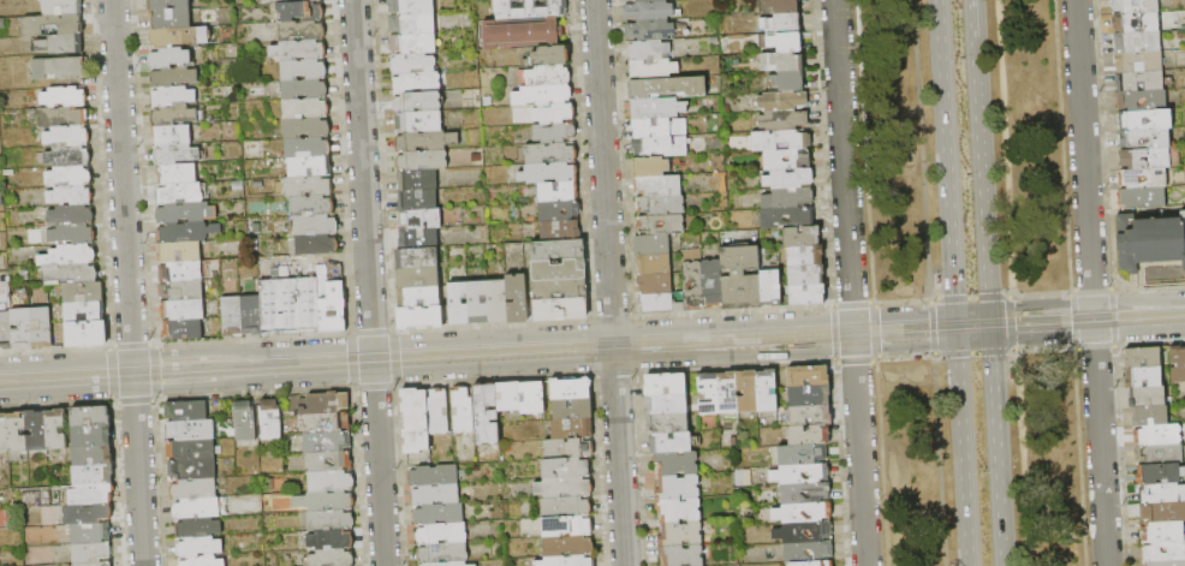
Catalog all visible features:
building: (647, 0)
building: (281, 1)
building: (310, 1)
building: (166, 4)
building: (782, 6)
building: (1135, 6)
building: (60, 7)
building: (409, 7)
building: (528, 10)
building: (648, 11)
building: (298, 12)
road: (973, 18)
building: (168, 19)
building: (781, 23)
building: (1123, 23)
building: (50, 24)
building: (410, 24)
building: (649, 30)
building: (300, 31)
building: (520, 34)
building: (178, 37)
building: (782, 41)
building: (1137, 41)
building: (411, 43)
building: (58, 44)
building: (297, 50)
building: (648, 50)
building: (549, 55)
building: (168, 58)
building: (781, 61)
building: (1138, 61)
building: (411, 64)
building: (56, 67)
building: (651, 68)
building: (302, 70)
building: (547, 76)
building: (172, 77)
building: (788, 79)
building: (1139, 79)
building: (416, 83)
building: (666, 87)
building: (303, 89)
building: (540, 95)
building: (62, 96)
building: (172, 97)
building: (1127, 100)
building: (781, 101)
building: (417, 102)
building: (655, 107)
building: (305, 108)
building: (552, 114)
building: (175, 115)
building: (60, 117)
building: (1130, 119)
building: (782, 120)
building: (404, 123)
building: (657, 127)
building: (306, 129)
building: (552, 133)
building: (66, 135)
building: (171, 136)
building: (780, 139)
building: (1130, 139)
building: (419, 142)
road: (1060, 145)
building: (659, 147)
building: (306, 148)
road: (1004, 148)
road: (921, 149)
road: (863, 150)
road: (821, 151)
building: (548, 153)
building: (175, 155)
building: (66, 156)
building: (799, 159)
road: (1083, 159)
building: (1159, 159)
building: (421, 161)
road: (946, 162)
road: (844, 166)
building: (308, 167)
building: (649, 167)
road: (982, 171)
road: (603, 172)
road: (100, 173)
building: (547, 173)
building: (175, 174)
building: (67, 177)
building: (1156, 177)
road: (362, 179)
building: (786, 179)
building: (416, 180)
road: (121, 185)
building: (305, 186)
building: (656, 186)
building: (556, 192)
building: (179, 193)
building: (69, 195)
building: (1142, 197)
building: (786, 198)
building: (416, 199)
building: (659, 204)
building: (310, 205)
building: (556, 210)
building: (180, 213)
building: (70, 215)
building: (800, 218)
building: (418, 219)
building: (659, 225)
building: (315, 226)
building: (559, 231)
building: (186, 232)
building: (71, 233)
building: (800, 237)
building: (417, 239)
building: (1149, 240)
building: (315, 244)
building: (651, 245)
building: (558, 250)
building: (177, 252)
building: (69, 255)
building: (803, 256)
building: (415, 258)
building: (653, 263)
building: (558, 270)
building: (180, 272)
building: (69, 273)
building: (805, 274)
building: (416, 278)
building: (739, 278)
building: (691, 279)
building: (653, 282)
park: (970, 282)
building: (710, 284)
building: (769, 286)
building: (560, 288)
road: (1148, 288)
building: (181, 291)
road: (1090, 291)
building: (82, 292)
road: (1040, 293)
traffic signals: (954, 294)
building: (803, 296)
building: (417, 297)
road: (931, 297)
road: (971, 297)
building: (331, 298)
building: (516, 298)
road: (901, 299)
building: (495, 300)
road: (929, 300)
road: (1086, 300)
road: (870, 302)
building: (477, 303)
road: (830, 303)
road: (850, 303)
building: (288, 304)
building: (457, 304)
building: (657, 304)
road: (874, 304)
traffic signals: (1012, 305)
road: (828, 306)
building: (559, 309)
railway: (1042, 309)
building: (181, 310)
road: (731, 310)
railway: (1026, 310)
road: (1071, 310)
building: (82, 311)
road: (1034, 311)
building: (251, 315)
road: (989, 315)
building: (231, 316)
road: (971, 316)
road: (1138, 316)
building: (418, 317)
road: (611, 317)
road: (1112, 318)
road: (1074, 320)
road: (1010, 321)
road: (1041, 322)
traffic signals: (1013, 323)
road: (490, 324)
road: (972, 324)
building: (19, 327)
building: (38, 327)
road: (933, 327)
traffic signals: (927, 328)
building: (181, 329)
road: (904, 329)
building: (5, 330)
road: (371, 332)
road: (874, 333)
building: (83, 334)
road: (973, 334)
road: (834, 335)
road: (955, 335)
road: (251, 338)
road: (930, 338)
railway: (725, 339)
road: (733, 339)
railway: (929, 339)
railway: (591, 341)
road: (636, 344)
railway: (792, 344)
road: (1149, 344)
road: (131, 345)
road: (812, 345)
traffic signals: (928, 345)
road: (590, 346)
road: (1094, 346)
road: (55, 348)
road: (220, 350)
railway: (591, 350)
road: (1011, 350)
road: (1042, 350)
road: (492, 352)
road: (802, 352)
road: (934, 353)
road: (972, 353)
traffic signals: (992, 355)
road: (904, 357)
railway: (160, 358)
road: (393, 358)
building: (1143, 358)
road: (854, 359)
road: (156, 361)
road: (343, 361)
road: (352, 361)
building: (1178, 364)
road: (737, 367)
road: (224, 368)
road: (153, 370)
road: (614, 373)
road: (112, 374)
road: (65, 376)
building: (808, 376)
building: (1144, 377)
road: (493, 380)
road: (156, 381)
railway: (160, 382)
building: (666, 383)
road: (222, 386)
road: (374, 387)
building: (571, 389)
building: (767, 391)
building: (748, 392)
road: (254, 393)
building: (728, 393)
building: (708, 394)
building: (809, 395)
building: (508, 397)
building: (1147, 397)
building: (532, 398)
road: (135, 400)
building: (331, 403)
road: (56, 404)
building: (667, 404)
building: (464, 409)
building: (573, 409)
building: (186, 411)
building: (439, 411)
building: (487, 413)
building: (810, 416)
building: (90, 417)
building: (1150, 417)
building: (270, 419)
building: (417, 419)
building: (245, 421)
building: (324, 423)
building: (668, 424)
building: (572, 428)
building: (56, 429)
building: (36, 430)
building: (190, 430)
building: (18, 431)
building: (4, 434)
building: (93, 435)
building: (809, 435)
building: (1157, 435)
building: (328, 442)
building: (673, 442)
road: (1098, 442)
road: (996, 445)
building: (568, 447)
road: (859, 448)
building: (192, 449)
road: (961, 454)
building: (1160, 454)
building: (94, 455)
road: (618, 455)
building: (804, 455)
road: (1022, 458)
road: (939, 460)
building: (328, 463)
road: (377, 463)
building: (677, 464)
building: (567, 467)
road: (138, 469)
building: (191, 470)
building: (1160, 473)
building: (93, 475)
building: (802, 475)
building: (435, 476)
building: (331, 481)
building: (565, 488)
building: (678, 488)
building: (193, 489)
building: (805, 494)
building: (1160, 494)
building: (89, 495)
building: (435, 495)
building: (327, 501)
building: (567, 506)
building: (198, 508)
building: (679, 511)
building: (88, 513)
building: (804, 513)
building: (1162, 513)
building: (437, 514)
building: (331, 520)
building: (568, 526)
building: (197, 528)
building: (804, 532)
building: (1163, 532)
building: (91, 534)
building: (442, 534)
building: (680, 535)
building: (331, 541)
building: (568, 546)
building: (198, 547)
building: (1163, 552)
building: (93, 553)
building: (809, 553)
building: (442, 554)
building: (681, 555)
building: (332, 558)
building: (201, 561)
building: (568, 561)
building: (96, 564)
building: (446, 564)
building: (814, 564)
building: (1165, 564)
building: (474, 565)

